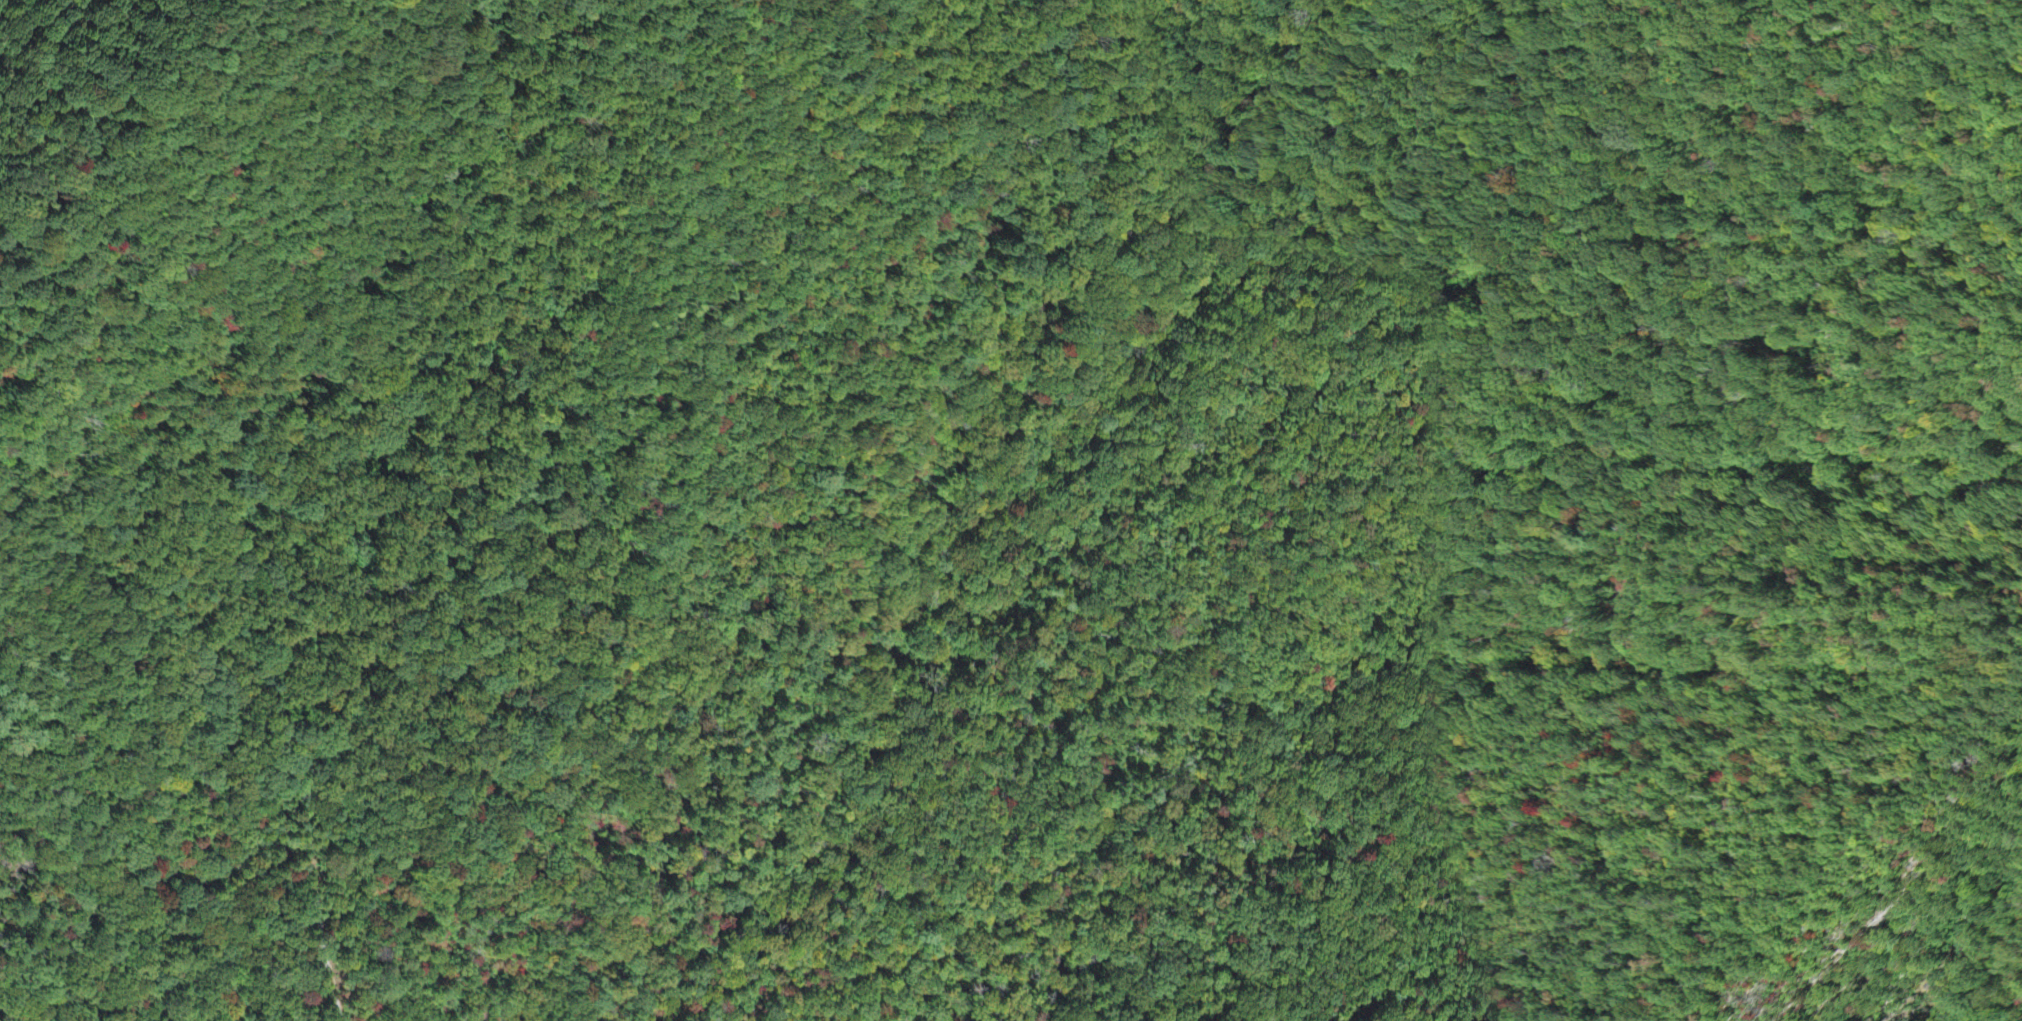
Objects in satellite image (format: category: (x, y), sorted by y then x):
road: (684, 602)

